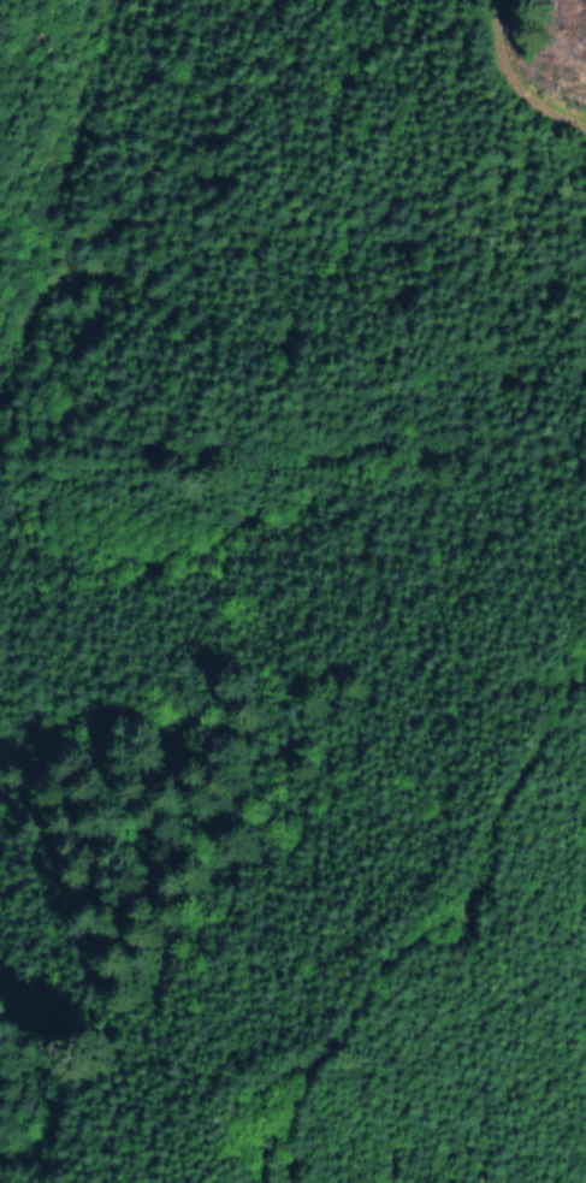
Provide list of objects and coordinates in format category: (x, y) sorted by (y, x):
road: (516, 70)
road: (403, 851)

